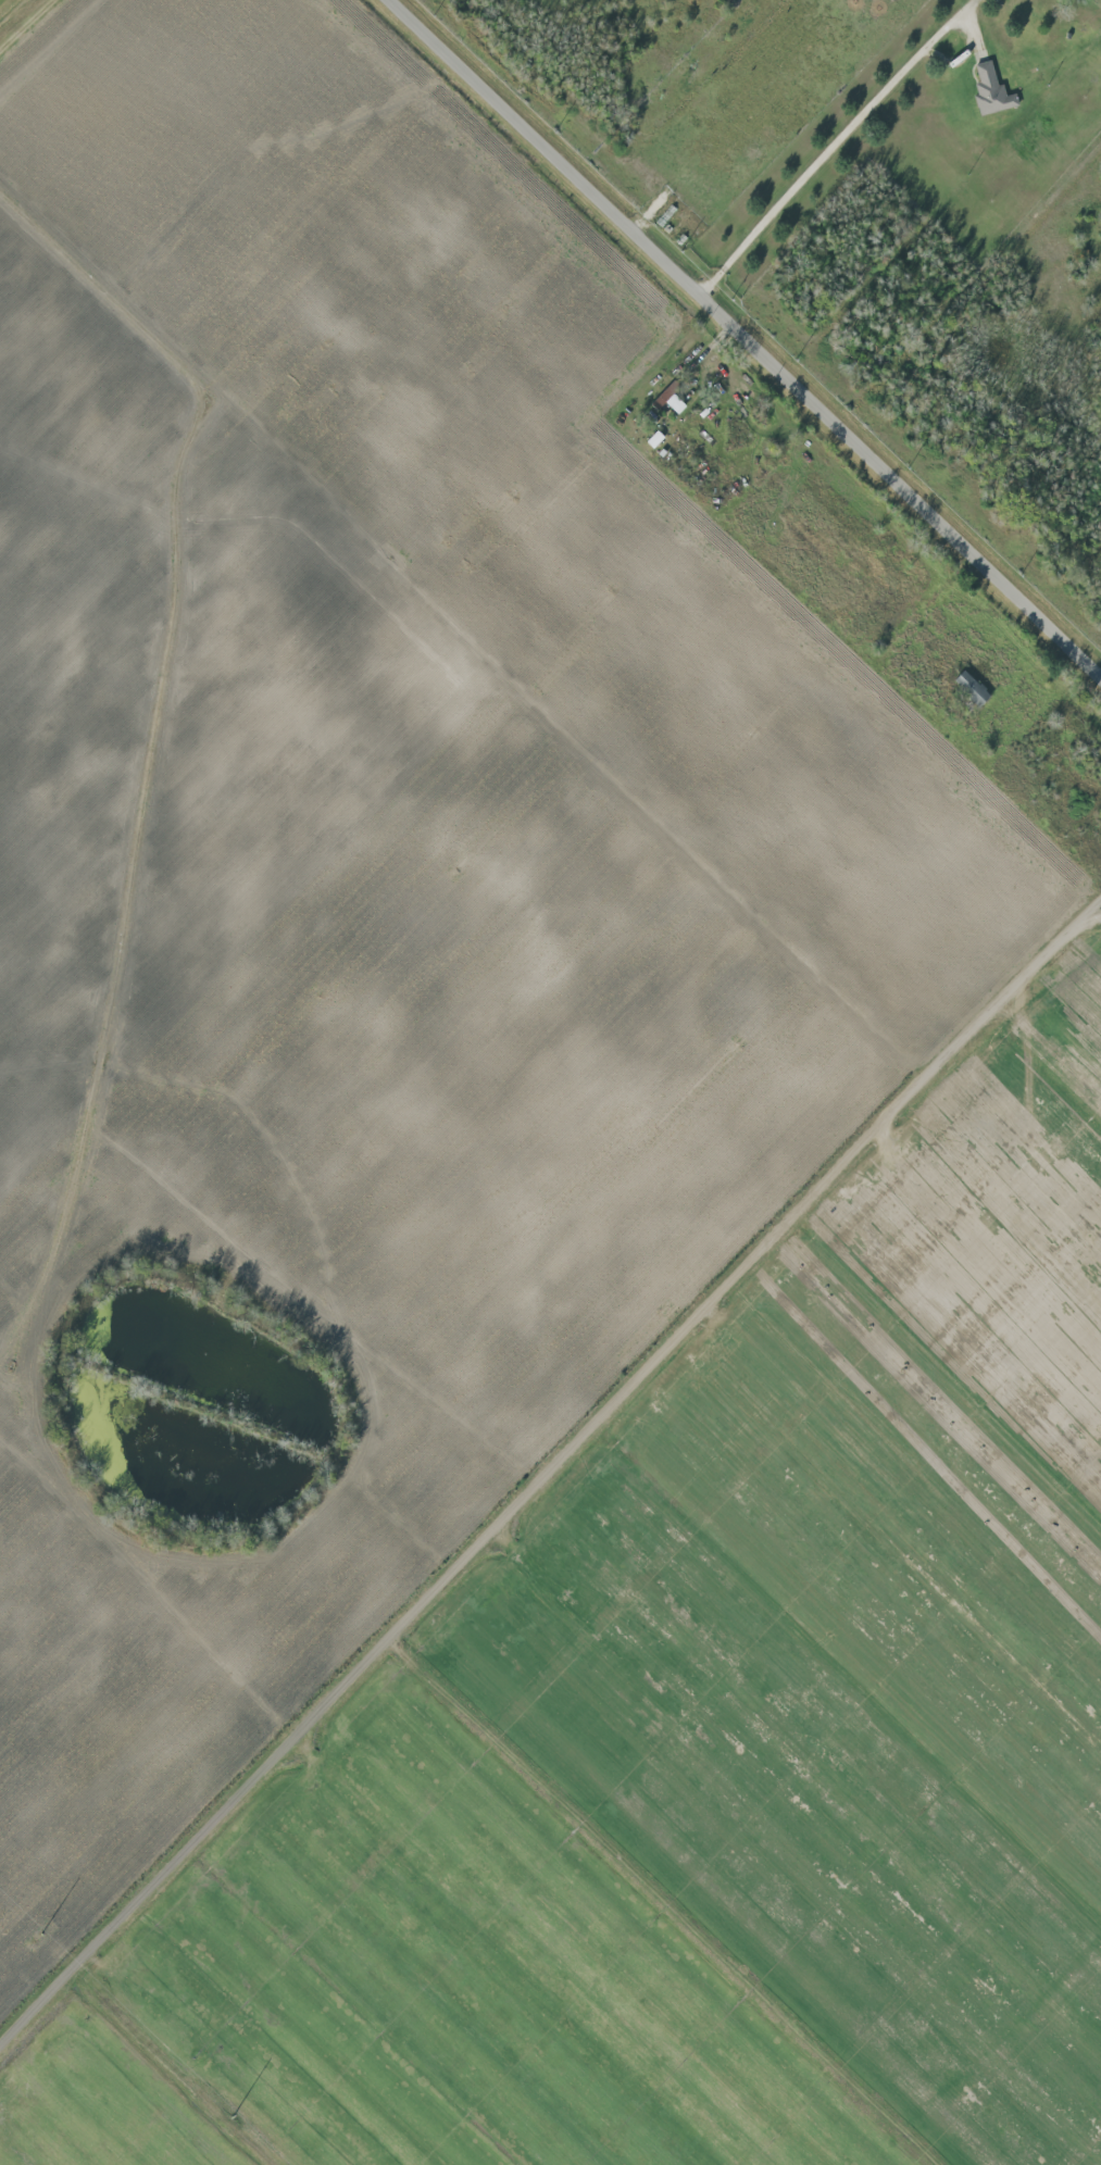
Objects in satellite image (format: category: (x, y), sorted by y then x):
building: (985, 90)
road: (837, 142)
road: (749, 335)
building: (967, 688)
road: (550, 1465)

